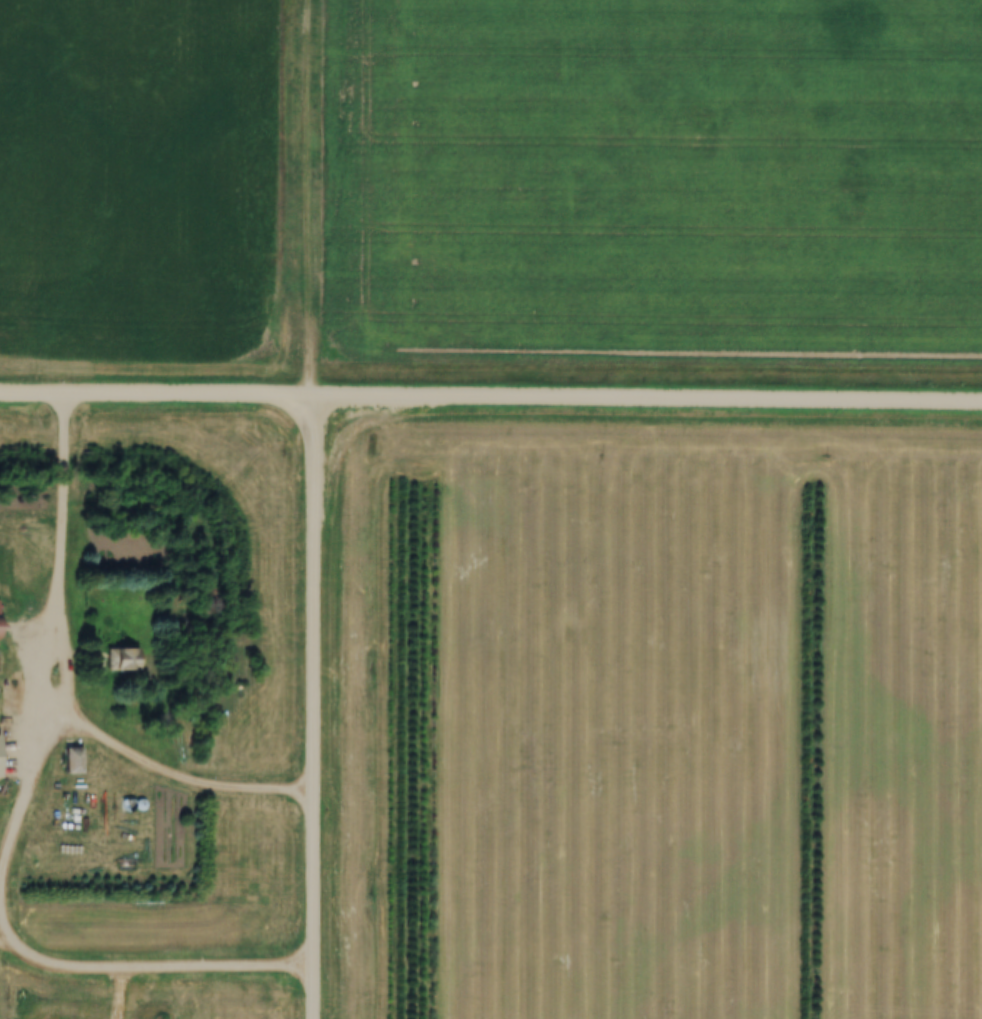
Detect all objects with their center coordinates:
road: (310, 196)
road: (491, 394)
building: (121, 658)
road: (69, 682)
road: (312, 706)
building: (70, 760)

